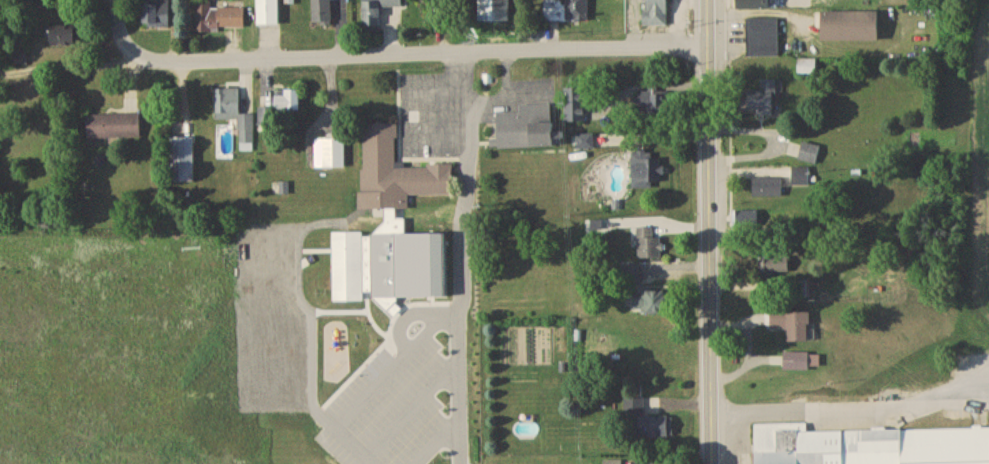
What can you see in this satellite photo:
building: (831, 5)
building: (755, 6)
building: (379, 12)
building: (503, 12)
building: (568, 12)
building: (657, 13)
building: (270, 14)
building: (324, 14)
building: (158, 15)
building: (219, 21)
road: (120, 22)
building: (852, 29)
building: (65, 40)
building: (764, 40)
road: (367, 54)
building: (21, 60)
building: (808, 69)
road: (16, 70)
road: (488, 100)
building: (763, 100)
building: (576, 107)
building: (654, 107)
building: (281, 109)
building: (237, 119)
building: (115, 129)
building: (529, 131)
building: (586, 144)
building: (810, 156)
building: (183, 161)
building: (647, 172)
building: (801, 179)
building: (396, 180)
building: (768, 190)
building: (749, 221)
road: (710, 231)
building: (650, 247)
road: (418, 266)
building: (775, 267)
building: (349, 270)
road: (459, 283)
building: (653, 305)
building: (796, 329)
building: (803, 364)
road: (851, 412)
building: (647, 425)
building: (870, 447)
building: (614, 463)

